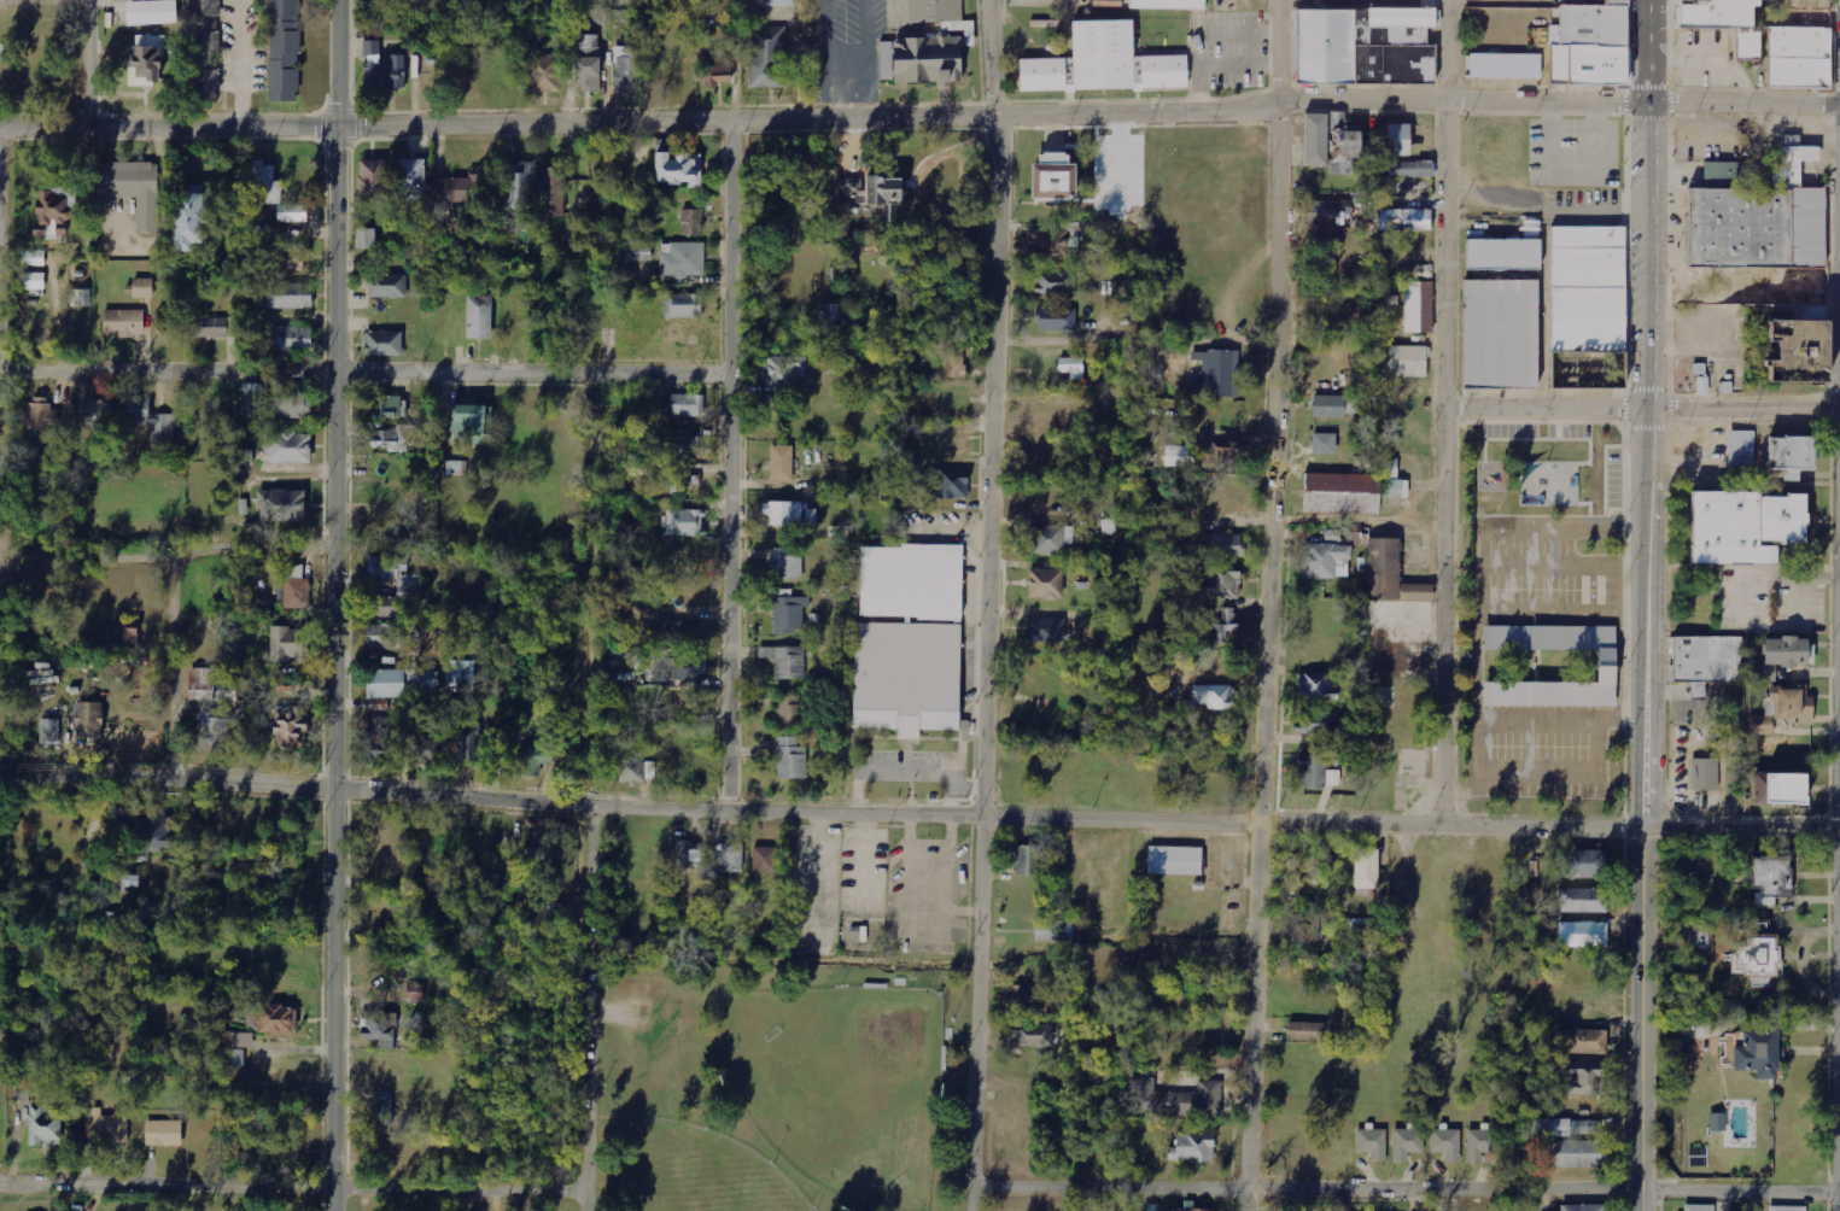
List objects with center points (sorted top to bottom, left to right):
building: (766, 2)
building: (1166, 2)
building: (1708, 11)
building: (152, 12)
building: (1361, 42)
building: (1585, 42)
building: (924, 43)
building: (200, 48)
building: (280, 52)
road: (1833, 53)
building: (1786, 54)
building: (767, 57)
building: (145, 60)
building: (588, 64)
building: (1100, 64)
road: (81, 65)
building: (1501, 66)
building: (384, 68)
building: (626, 68)
building: (720, 69)
building: (545, 74)
road: (921, 118)
building: (1315, 140)
building: (1396, 141)
building: (1345, 148)
building: (677, 169)
building: (1408, 170)
building: (1051, 177)
building: (372, 180)
building: (413, 180)
building: (267, 183)
building: (522, 185)
building: (457, 189)
building: (871, 189)
building: (132, 191)
building: (554, 192)
building: (48, 212)
building: (1330, 212)
building: (293, 213)
building: (1757, 216)
building: (189, 220)
building: (1403, 220)
building: (691, 222)
building: (366, 239)
road: (1830, 247)
building: (1051, 250)
building: (639, 251)
building: (1505, 251)
building: (34, 258)
building: (292, 259)
building: (682, 261)
building: (33, 281)
building: (1055, 282)
building: (389, 287)
building: (142, 288)
building: (290, 296)
building: (81, 298)
building: (683, 305)
building: (1584, 305)
building: (1419, 306)
building: (1812, 316)
building: (480, 317)
building: (829, 318)
building: (1056, 318)
building: (123, 323)
building: (209, 328)
building: (1499, 335)
building: (288, 339)
building: (384, 343)
building: (1794, 352)
building: (953, 359)
building: (1408, 362)
building: (1071, 367)
building: (783, 370)
building: (1219, 373)
road: (366, 374)
building: (1695, 381)
road: (1833, 388)
building: (275, 404)
building: (687, 405)
building: (386, 406)
building: (1328, 406)
road: (1828, 408)
road: (1643, 409)
road: (1447, 413)
building: (41, 414)
building: (100, 415)
building: (152, 419)
road: (1747, 420)
road: (1834, 423)
building: (467, 425)
building: (392, 439)
building: (1324, 443)
building: (688, 446)
building: (290, 449)
building: (1741, 449)
building: (1233, 454)
building: (249, 457)
building: (1180, 457)
road: (730, 467)
building: (458, 468)
building: (782, 468)
park: (1546, 469)
building: (948, 485)
building: (1394, 490)
building: (1340, 493)
road: (1830, 495)
building: (282, 505)
building: (1748, 509)
building: (784, 515)
building: (684, 522)
building: (1111, 526)
road: (1667, 526)
building: (1050, 539)
road: (264, 555)
building: (1326, 561)
road: (1748, 564)
building: (787, 566)
building: (1221, 566)
building: (1390, 575)
building: (910, 583)
building: (1045, 584)
building: (294, 587)
building: (684, 593)
parking lot: (1772, 599)
road: (332, 604)
road: (985, 604)
road: (1646, 604)
road: (1263, 605)
building: (788, 612)
building: (1227, 624)
building: (1046, 630)
building: (683, 632)
building: (125, 633)
building: (382, 636)
building: (288, 643)
building: (1781, 656)
building: (1707, 659)
road: (174, 660)
building: (785, 662)
building: (1607, 667)
building: (680, 669)
building: (461, 675)
building: (906, 678)
building: (403, 683)
building: (211, 685)
building: (1316, 688)
building: (1698, 690)
building: (1215, 696)
building: (1781, 709)
building: (789, 712)
building: (89, 721)
building: (1318, 729)
building: (51, 732)
building: (215, 732)
building: (379, 739)
building: (430, 749)
building: (792, 759)
building: (532, 761)
building: (638, 771)
building: (1705, 774)
building: (1333, 778)
building: (1777, 790)
road: (919, 815)
building: (151, 835)
building: (538, 844)
building: (688, 854)
building: (728, 858)
building: (765, 860)
building: (1028, 860)
building: (1174, 861)
building: (1584, 865)
building: (1366, 868)
building: (1769, 879)
building: (1582, 901)
building: (542, 914)
building: (1053, 931)
building: (1307, 931)
building: (1356, 931)
building: (1582, 935)
building: (1700, 937)
building: (416, 991)
building: (1027, 996)
road: (588, 1007)
building: (276, 1019)
building: (1305, 1028)
building: (381, 1029)
building: (1033, 1036)
building: (1581, 1041)
building: (236, 1048)
building: (1756, 1053)
park: (841, 1076)
building: (1582, 1077)
park: (782, 1084)
building: (1175, 1099)
building: (382, 1111)
building: (1717, 1121)
building: (45, 1127)
building: (107, 1127)
building: (1566, 1127)
building: (164, 1133)
building: (1372, 1142)
building: (1447, 1142)
building: (1480, 1142)
building: (1407, 1143)
building: (1192, 1147)
building: (1579, 1153)
park: (695, 1174)
road: (292, 1190)
road: (1406, 1190)
building: (1583, 1207)
building: (1699, 1207)
building: (1192, 1209)
building: (1787, 1209)

